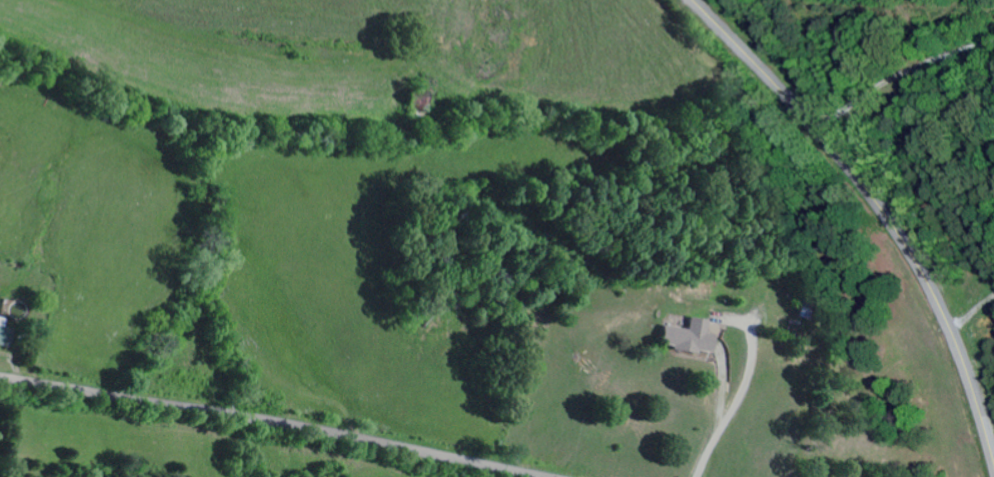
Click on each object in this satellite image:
road: (899, 76)
road: (876, 204)
road: (973, 314)
building: (6, 334)
building: (689, 337)
road: (275, 420)

